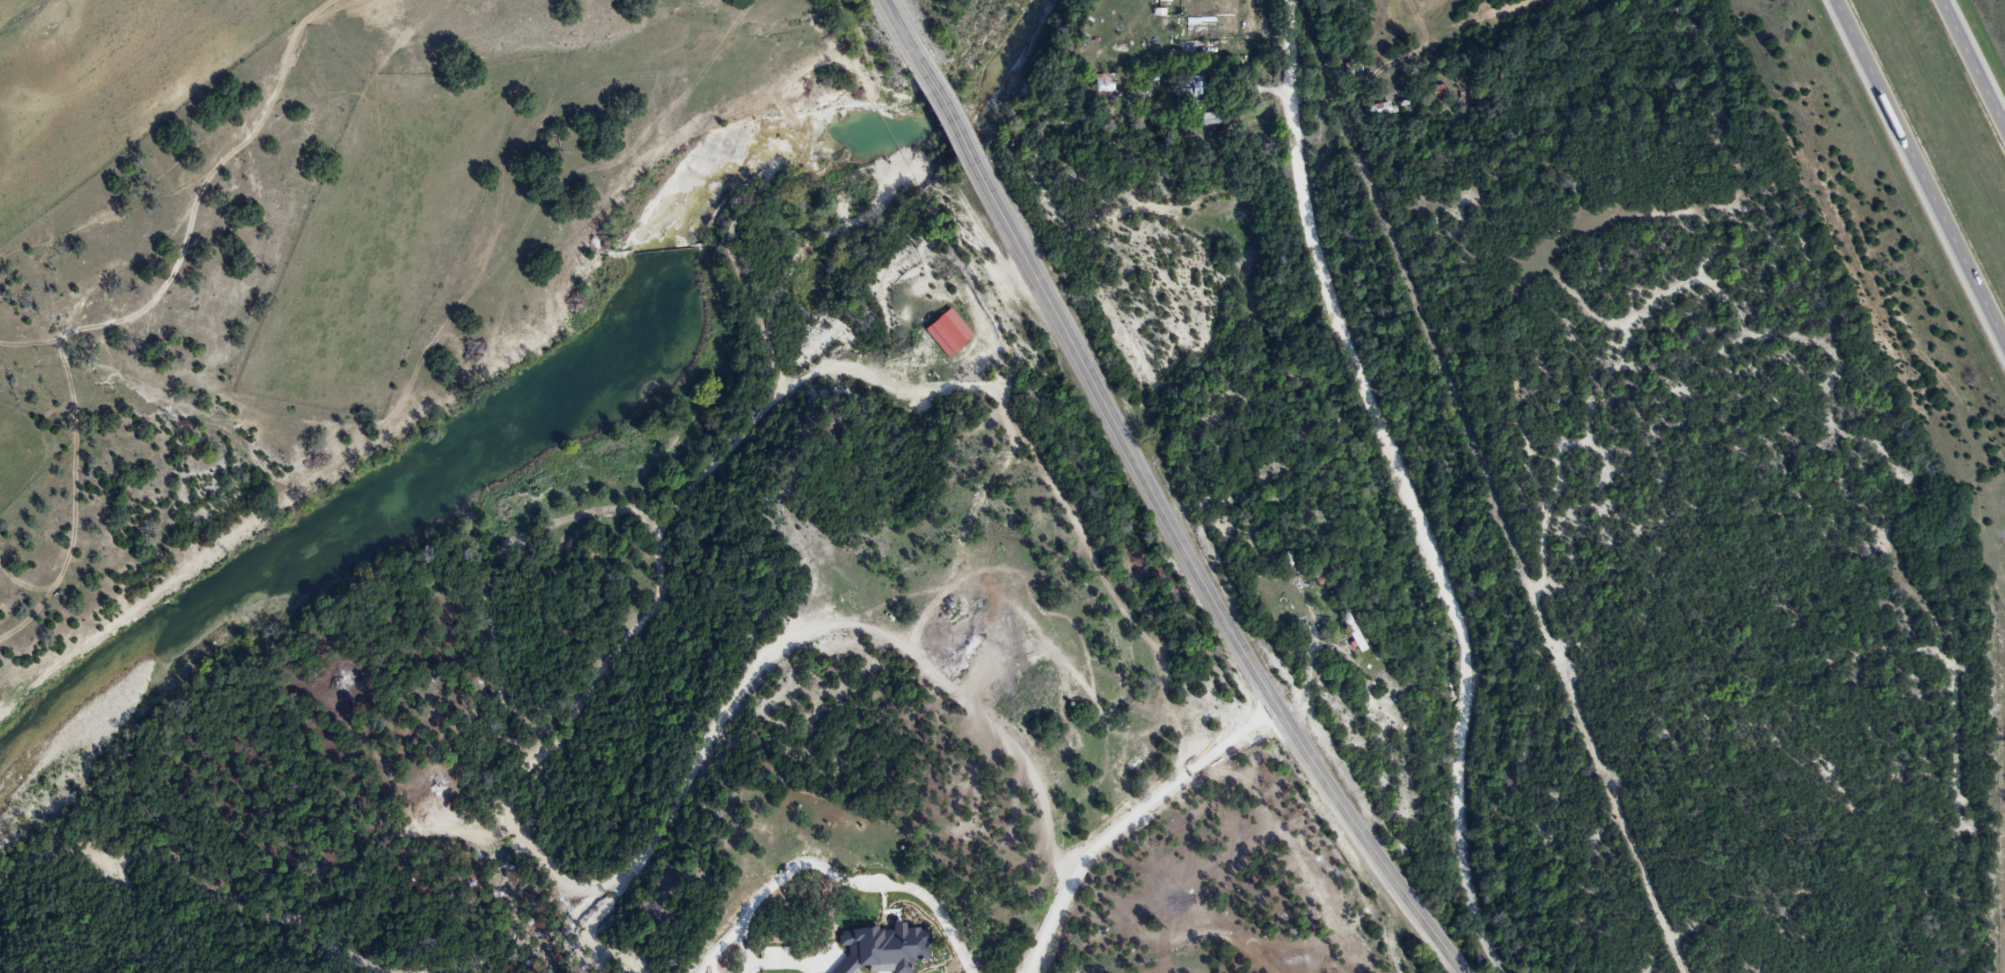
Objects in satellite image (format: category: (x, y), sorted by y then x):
road: (899, 29)
road: (1974, 64)
building: (1188, 89)
building: (1439, 94)
building: (1383, 109)
building: (1216, 116)
road: (951, 126)
road: (1923, 166)
road: (1402, 480)
road: (1210, 590)
road: (1124, 817)
road: (861, 892)
building: (766, 956)

